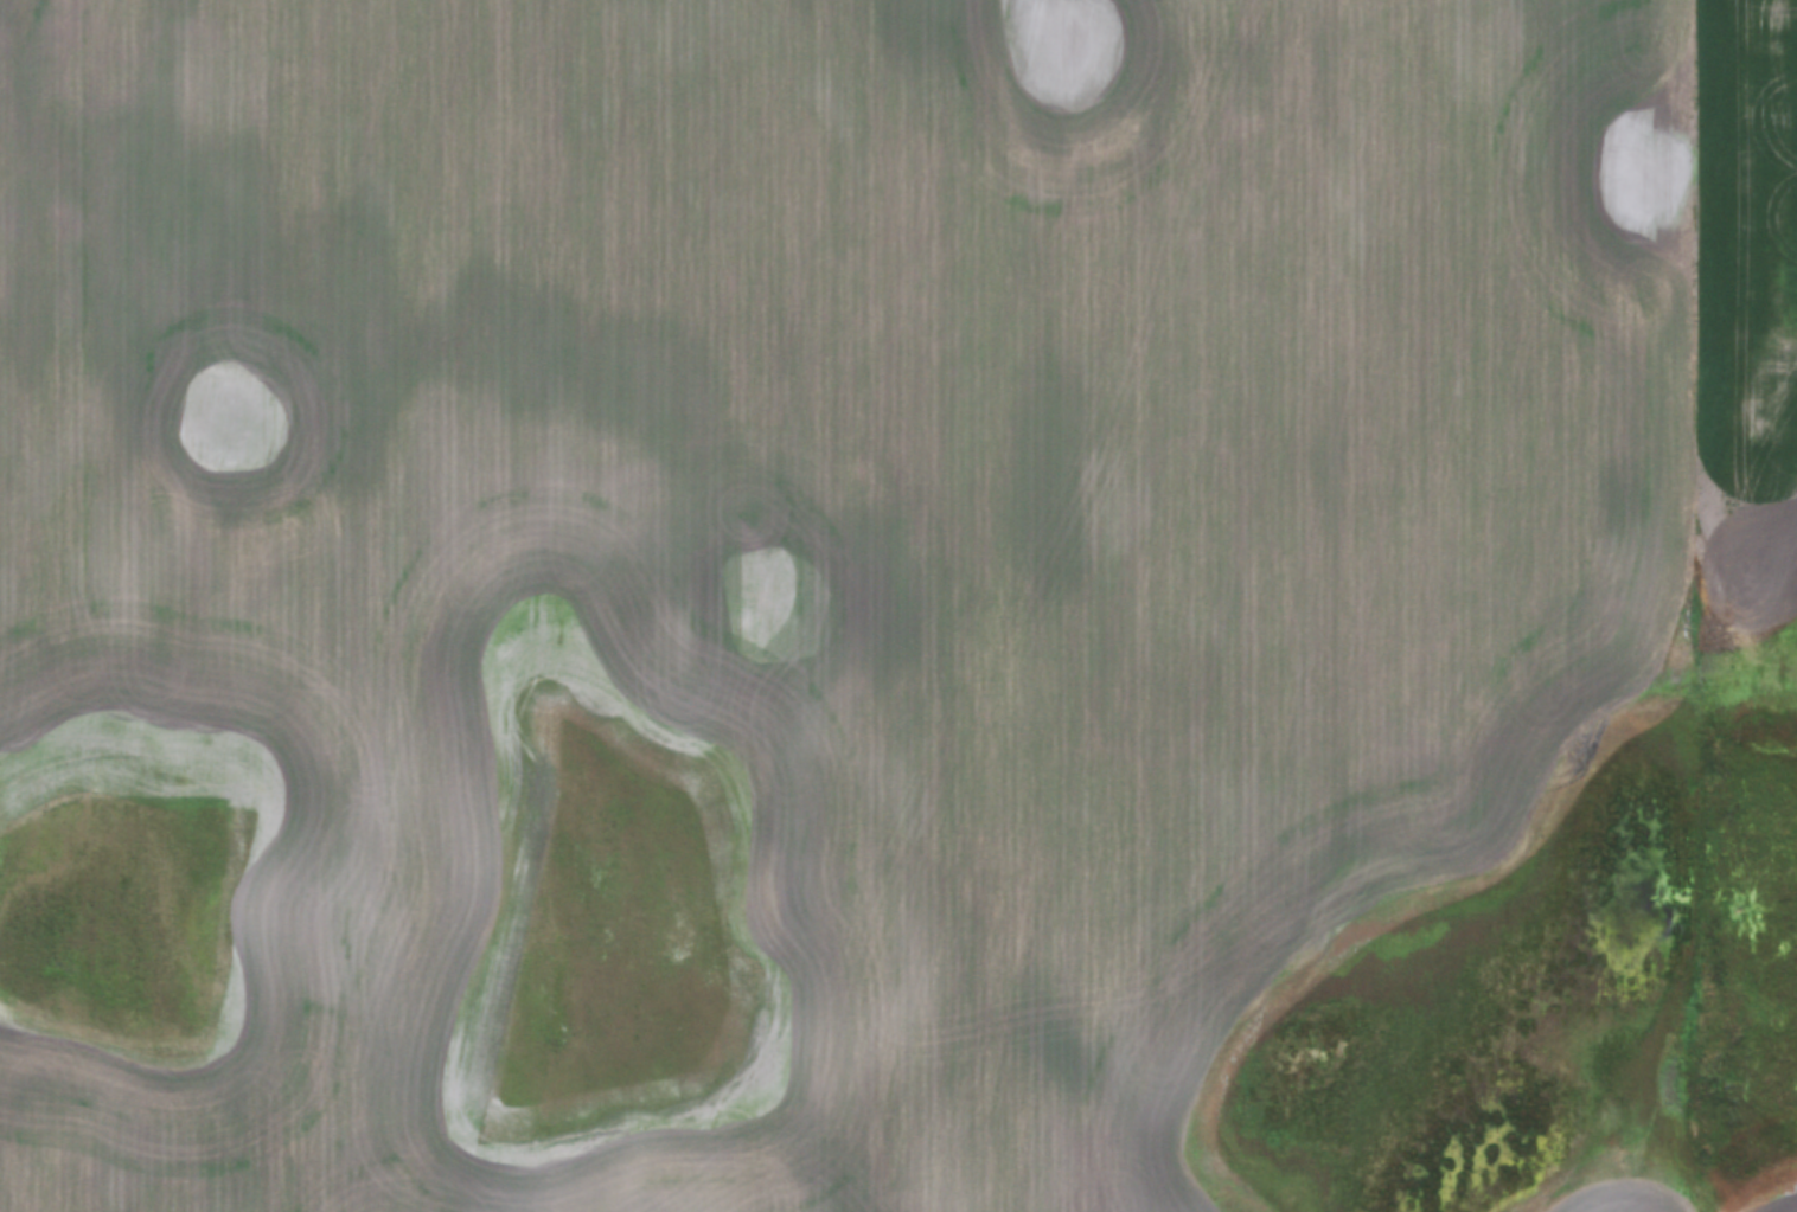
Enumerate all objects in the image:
road: (1680, 605)

